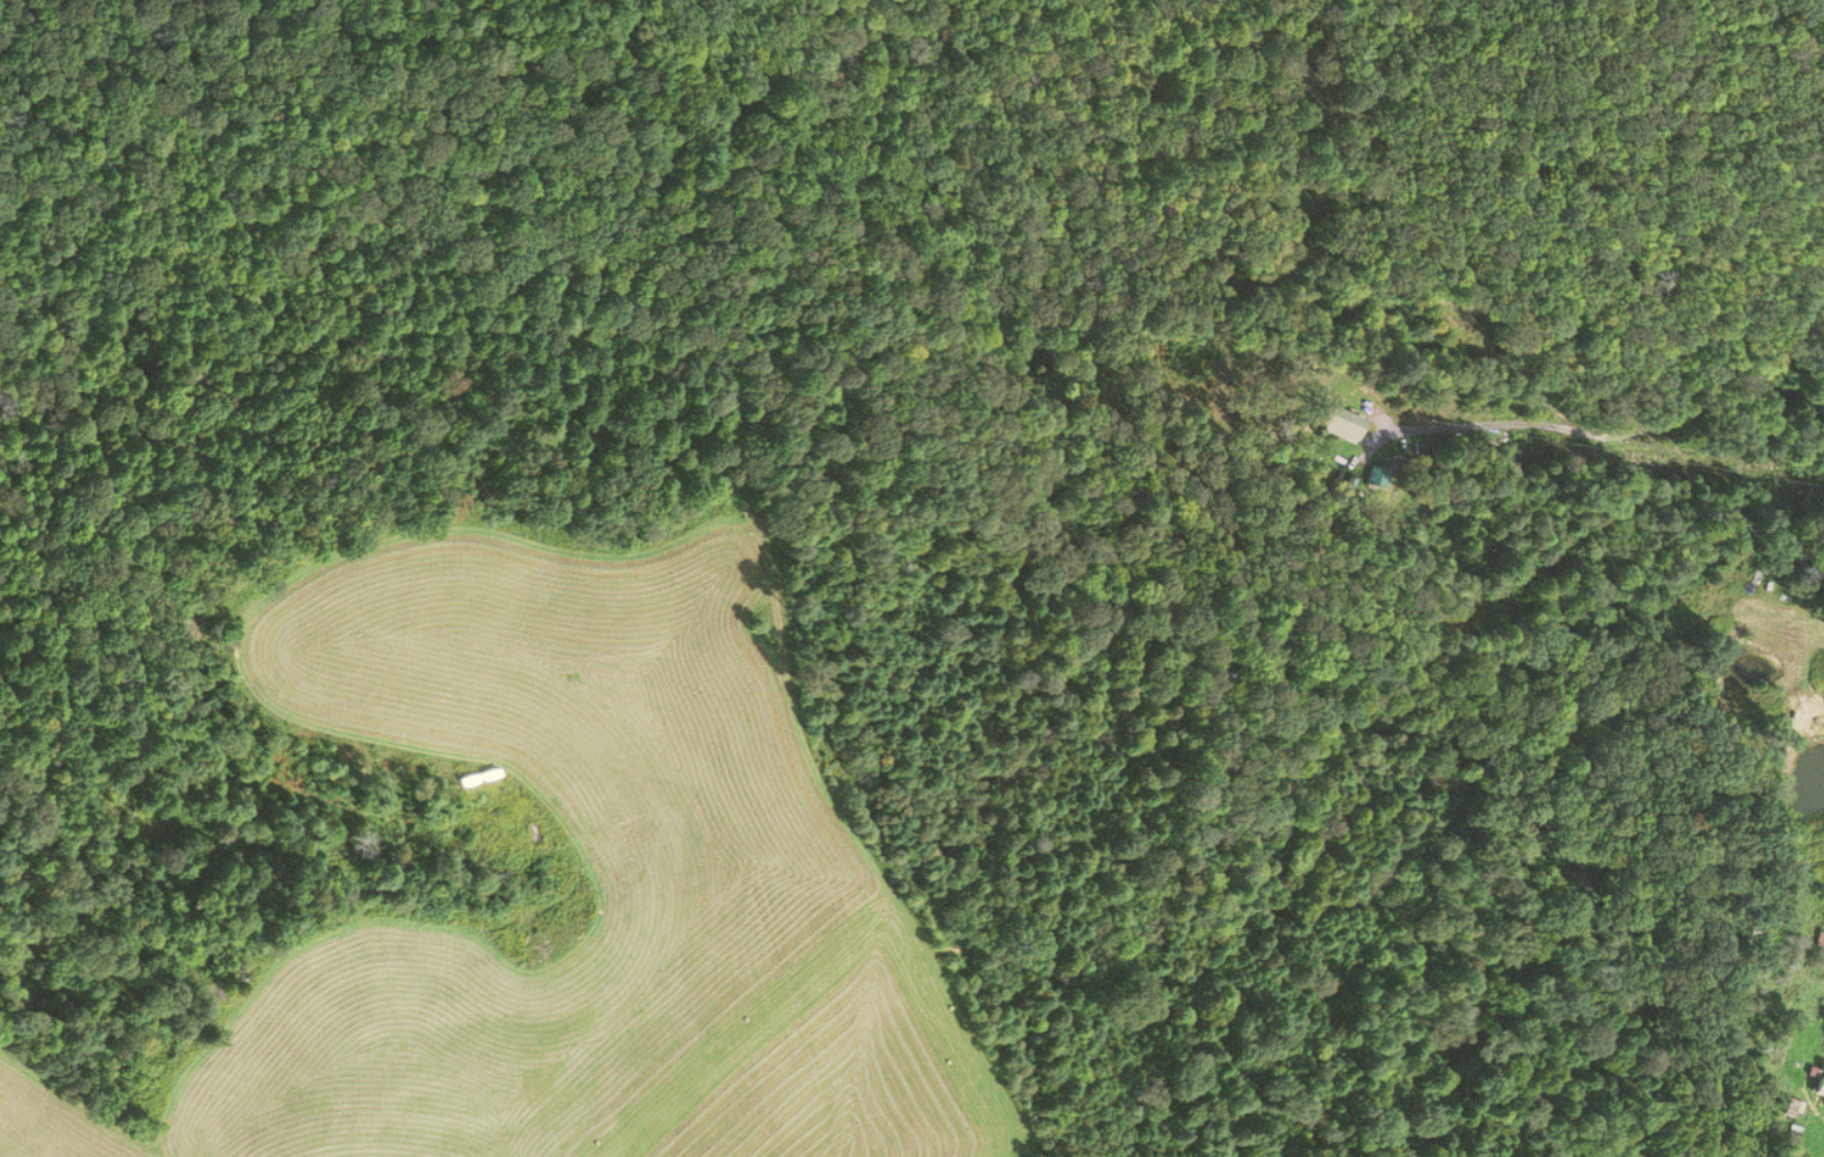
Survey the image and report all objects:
building: (1341, 426)
building: (1819, 935)
building: (1818, 1087)

